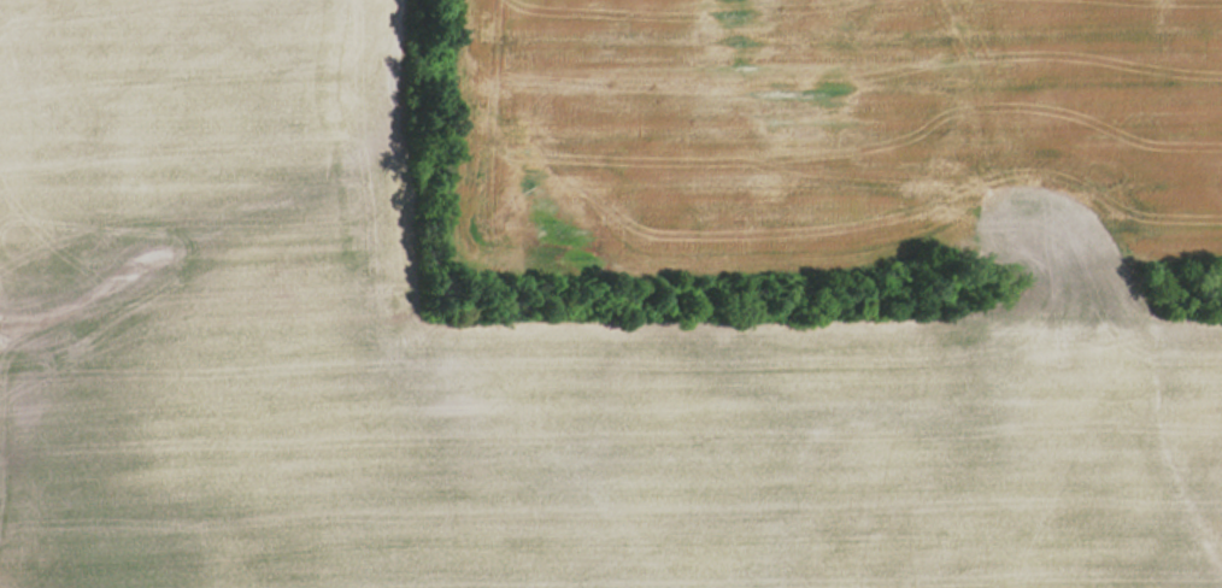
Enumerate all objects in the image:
crop: (846, 125)
crop: (498, 369)

